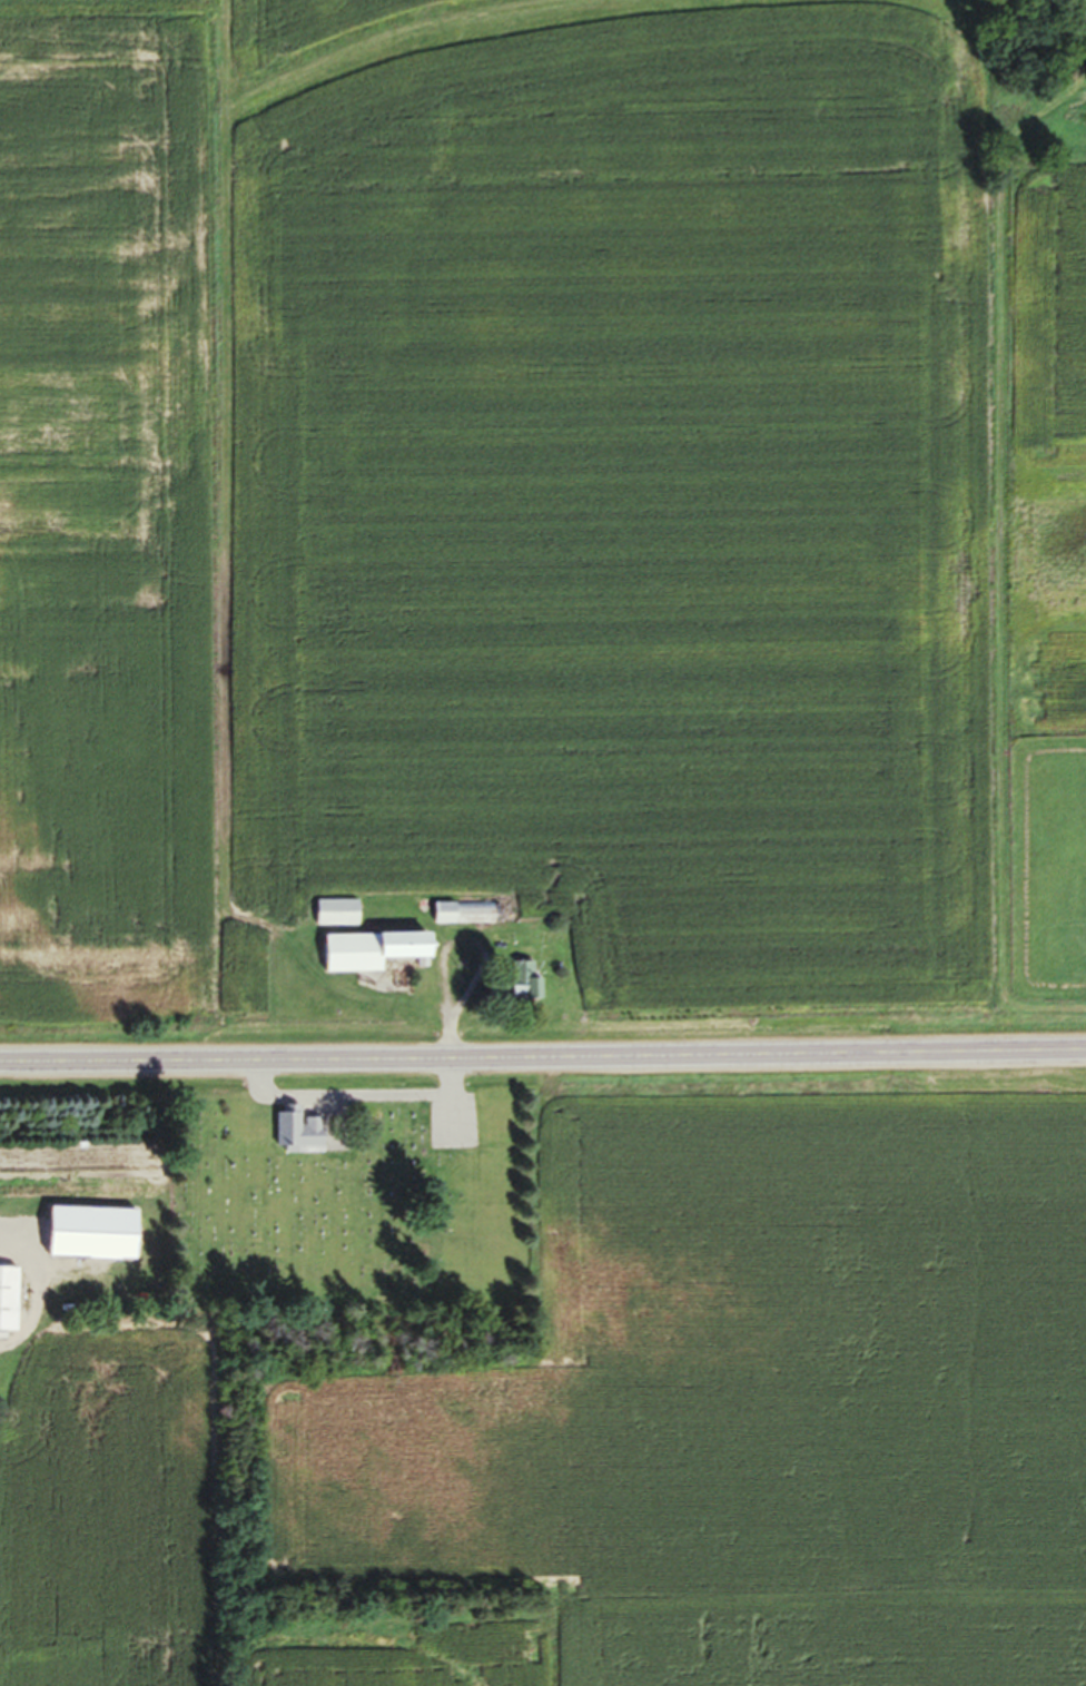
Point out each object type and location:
building: (333, 917)
building: (460, 917)
building: (367, 955)
building: (520, 985)
road: (543, 1058)
building: (464, 1130)
building: (295, 1137)
park: (353, 1212)
building: (86, 1239)
building: (6, 1304)

